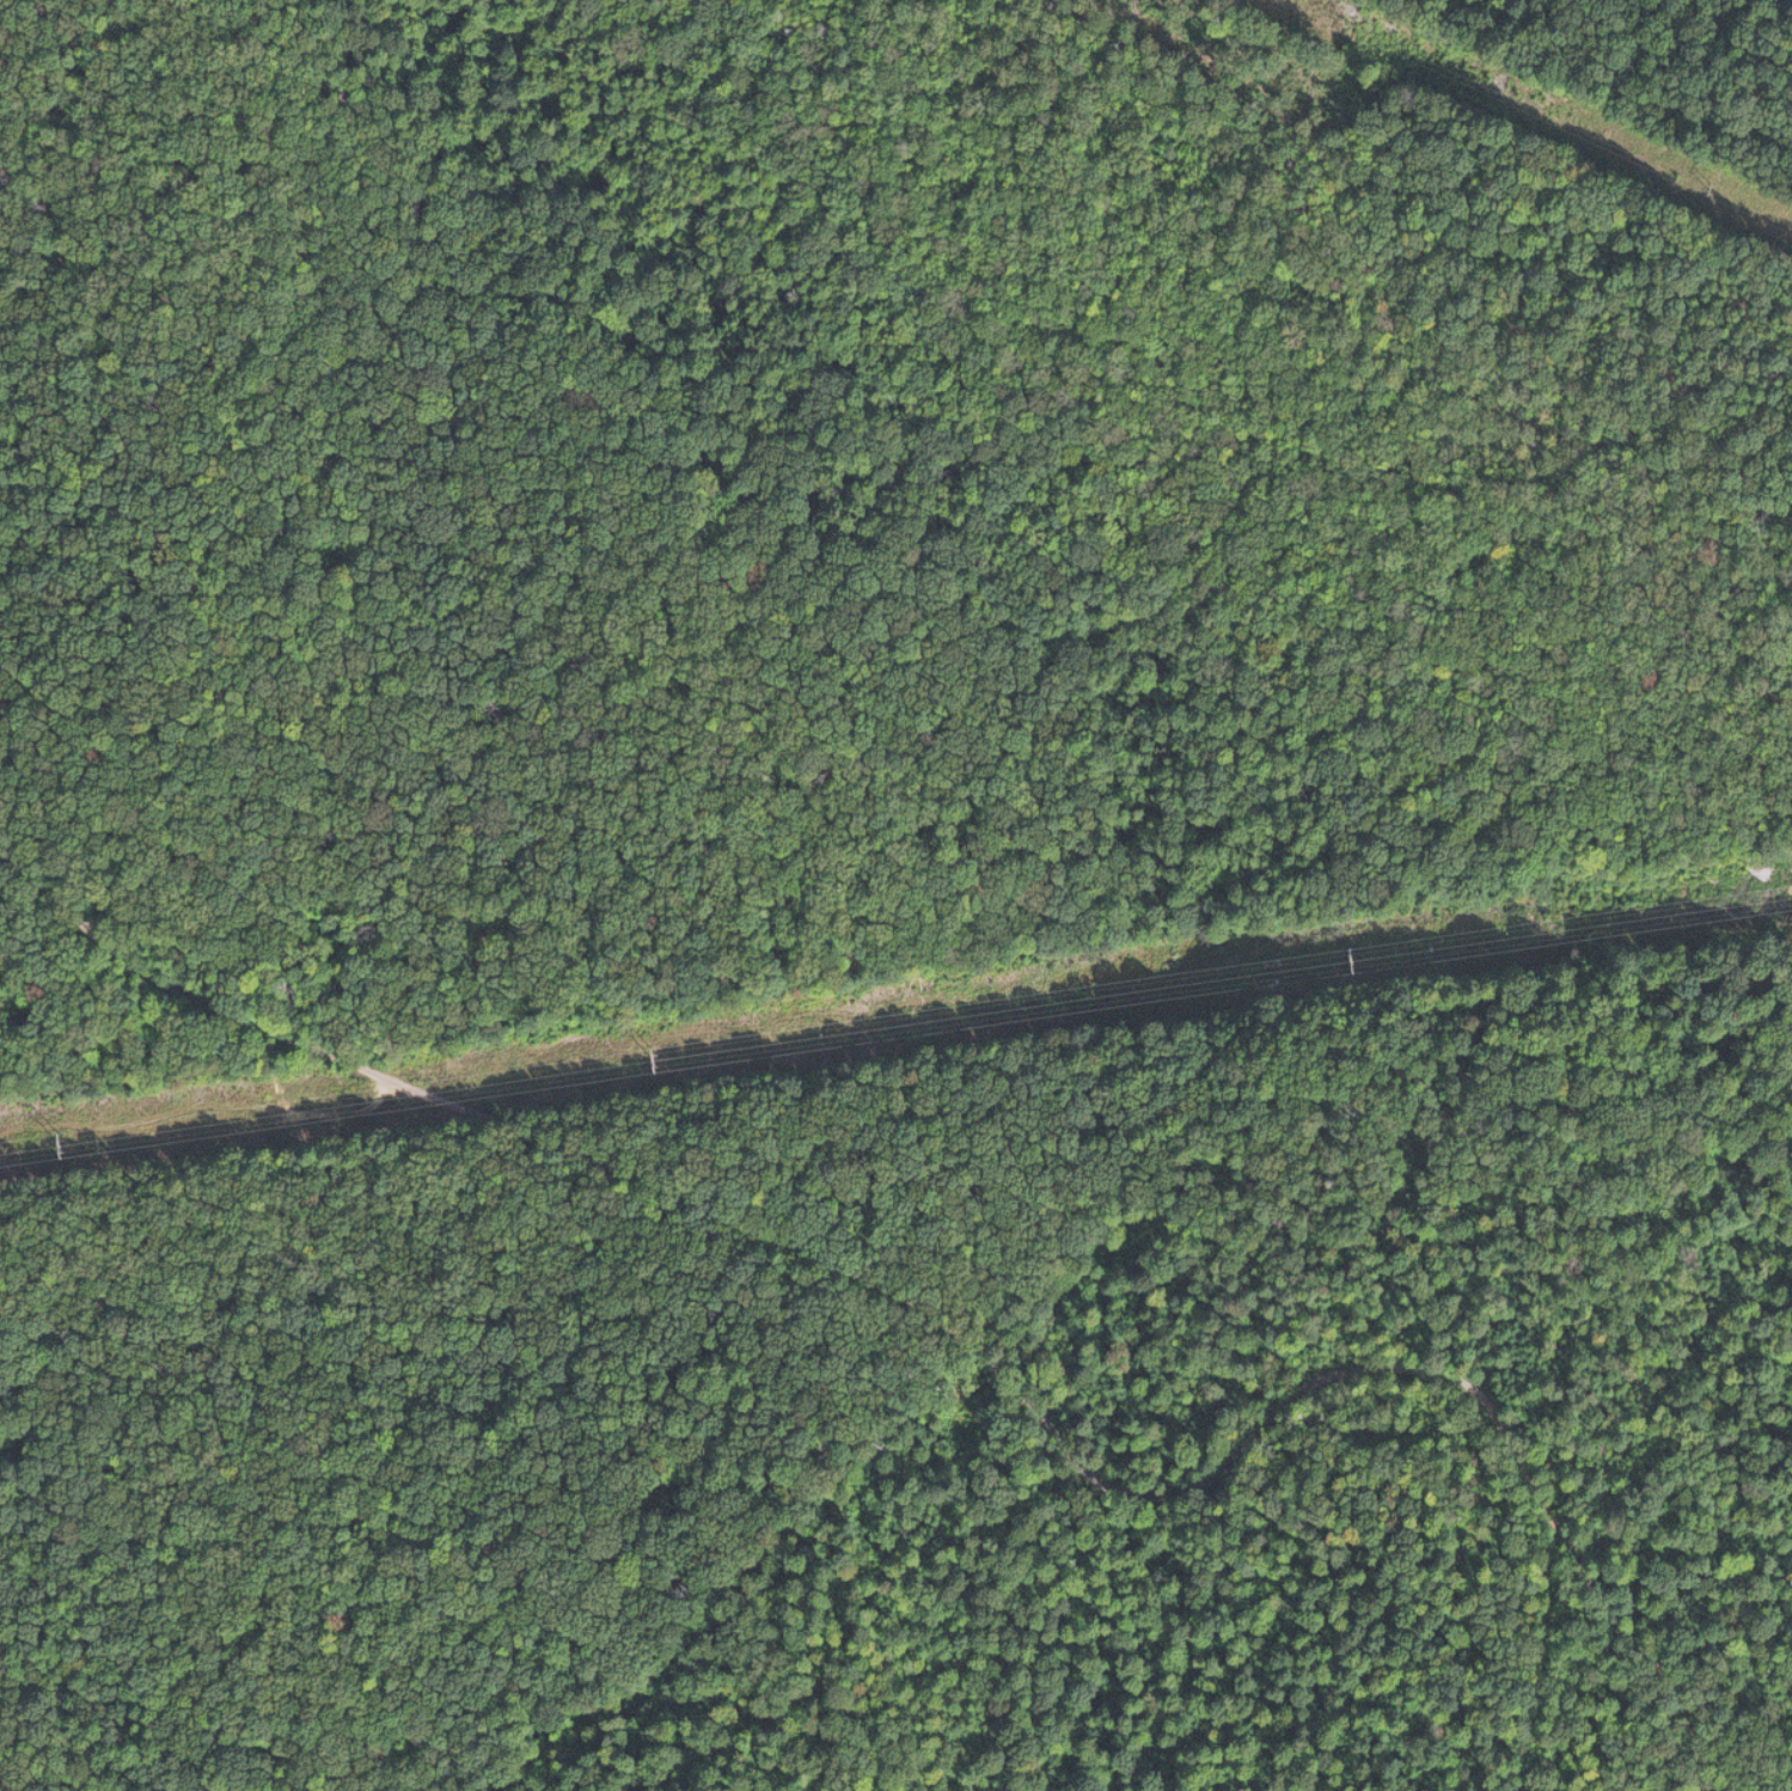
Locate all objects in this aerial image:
road: (977, 1344)
road: (1545, 1655)

